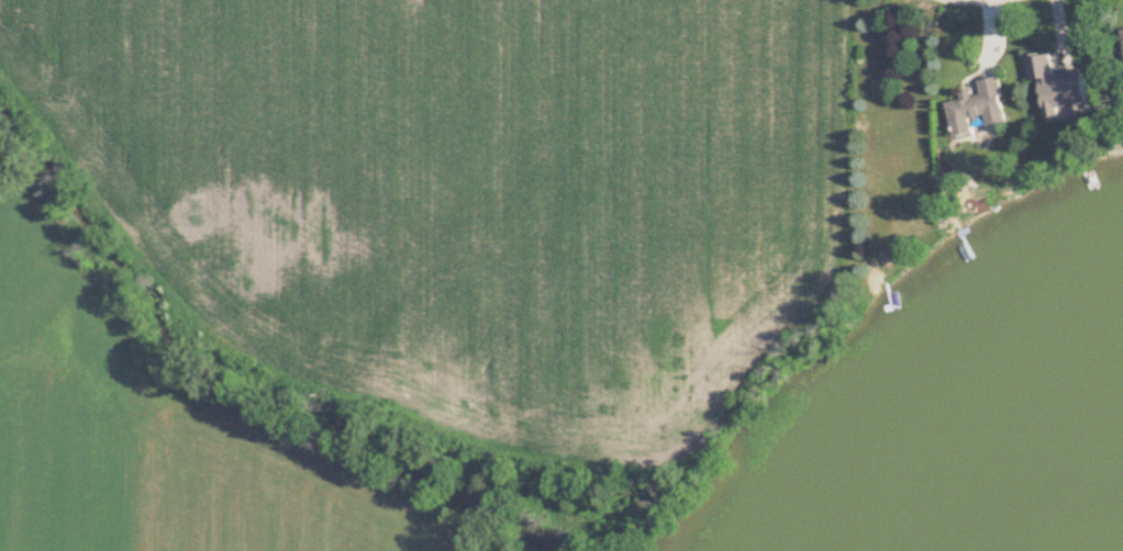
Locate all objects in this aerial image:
building: (1060, 88)
building: (980, 108)

